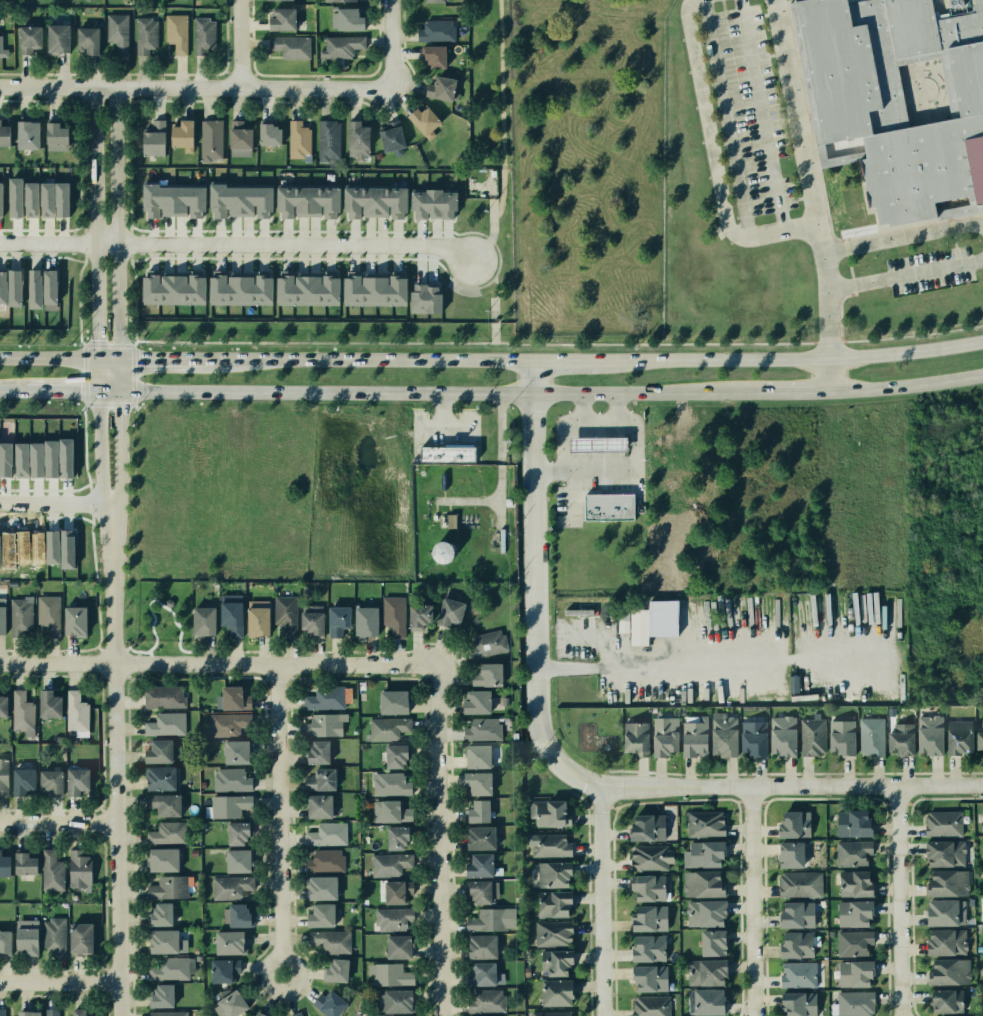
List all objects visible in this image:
building: (274, 0)
building: (342, 0)
building: (435, 1)
building: (345, 17)
building: (282, 19)
building: (436, 31)
building: (145, 32)
building: (173, 34)
building: (114, 35)
building: (202, 35)
building: (54, 37)
building: (25, 39)
building: (83, 39)
road: (238, 42)
building: (291, 46)
building: (340, 46)
building: (3, 49)
building: (434, 56)
road: (500, 83)
road: (358, 84)
road: (119, 85)
building: (441, 88)
building: (895, 100)
road: (760, 116)
road: (726, 119)
building: (424, 121)
building: (182, 133)
building: (268, 133)
building: (27, 134)
building: (56, 134)
building: (4, 135)
building: (392, 136)
building: (153, 138)
building: (239, 138)
building: (326, 138)
building: (209, 139)
building: (298, 139)
building: (357, 140)
building: (376, 155)
road: (713, 159)
road: (806, 178)
building: (16, 198)
building: (1, 199)
building: (55, 199)
building: (31, 200)
building: (172, 200)
building: (308, 201)
building: (240, 202)
building: (376, 202)
building: (432, 204)
road: (96, 221)
road: (902, 237)
road: (237, 247)
road: (953, 247)
road: (848, 267)
road: (904, 275)
building: (168, 286)
building: (2, 287)
building: (49, 287)
building: (238, 287)
building: (14, 288)
building: (34, 289)
building: (305, 289)
building: (372, 290)
building: (422, 297)
road: (118, 305)
road: (49, 358)
road: (109, 358)
road: (151, 358)
road: (356, 359)
road: (782, 359)
road: (556, 360)
road: (826, 375)
road: (904, 386)
road: (12, 390)
road: (61, 390)
road: (429, 391)
road: (794, 392)
road: (579, 407)
road: (618, 407)
road: (626, 422)
road: (444, 423)
road: (429, 424)
road: (98, 441)
building: (597, 445)
gas station: (597, 445)
building: (444, 452)
building: (66, 458)
building: (6, 459)
building: (51, 459)
building: (22, 460)
building: (36, 460)
road: (572, 475)
road: (51, 501)
building: (607, 506)
building: (53, 547)
building: (67, 549)
building: (437, 550)
road: (157, 602)
building: (168, 602)
building: (227, 609)
park: (162, 610)
building: (445, 611)
building: (19, 614)
building: (48, 614)
building: (2, 616)
building: (420, 616)
building: (335, 617)
building: (390, 617)
building: (282, 619)
building: (72, 620)
building: (199, 620)
building: (254, 620)
building: (309, 621)
building: (362, 621)
building: (623, 623)
building: (639, 627)
road: (534, 631)
building: (486, 644)
road: (125, 648)
road: (136, 650)
road: (193, 650)
road: (149, 652)
road: (217, 663)
road: (659, 663)
building: (484, 674)
building: (793, 686)
building: (163, 697)
building: (228, 697)
building: (324, 698)
building: (390, 701)
building: (473, 701)
building: (49, 703)
building: (3, 705)
building: (75, 710)
building: (20, 712)
building: (165, 723)
building: (226, 723)
building: (321, 724)
building: (387, 728)
building: (480, 729)
park: (591, 732)
building: (721, 733)
building: (780, 733)
building: (686, 734)
building: (896, 735)
building: (928, 735)
building: (659, 736)
building: (869, 736)
building: (957, 736)
building: (634, 737)
building: (812, 737)
building: (836, 737)
building: (751, 738)
building: (980, 739)
building: (155, 750)
building: (234, 750)
building: (314, 752)
building: (397, 754)
building: (474, 756)
road: (113, 770)
building: (4, 778)
building: (157, 778)
building: (318, 779)
building: (23, 780)
building: (231, 780)
building: (48, 781)
building: (73, 781)
building: (202, 783)
building: (388, 783)
building: (474, 783)
road: (834, 784)
building: (163, 803)
building: (231, 806)
building: (316, 806)
building: (474, 809)
building: (206, 811)
building: (384, 811)
building: (547, 815)
road: (277, 818)
building: (982, 820)
building: (644, 821)
building: (705, 821)
building: (791, 822)
road: (57, 823)
building: (852, 823)
building: (941, 823)
building: (238, 831)
building: (167, 832)
building: (327, 833)
building: (477, 837)
building: (393, 838)
road: (437, 839)
building: (548, 845)
building: (981, 850)
building: (192, 851)
building: (940, 853)
building: (852, 854)
building: (700, 855)
building: (796, 855)
building: (650, 857)
building: (160, 858)
building: (322, 860)
building: (234, 861)
building: (21, 863)
building: (389, 863)
building: (476, 864)
building: (3, 865)
building: (76, 868)
building: (50, 872)
building: (551, 875)
building: (702, 882)
building: (943, 882)
building: (798, 883)
building: (852, 884)
building: (230, 886)
building: (317, 886)
building: (165, 887)
building: (646, 888)
building: (472, 891)
building: (394, 892)
road: (599, 900)
road: (897, 900)
road: (750, 901)
building: (552, 906)
building: (939, 912)
building: (234, 914)
building: (317, 914)
building: (702, 914)
building: (157, 915)
building: (849, 915)
building: (797, 916)
building: (644, 918)
building: (391, 920)
building: (485, 920)
building: (54, 934)
building: (554, 936)
building: (78, 938)
building: (163, 940)
building: (4, 941)
building: (24, 941)
building: (330, 941)
building: (943, 941)
building: (225, 942)
building: (710, 942)
building: (853, 944)
building: (395, 946)
building: (477, 946)
building: (797, 946)
building: (194, 949)
building: (646, 949)
building: (196, 958)
building: (552, 962)
building: (168, 969)
building: (220, 970)
building: (332, 970)
building: (945, 970)
building: (701, 972)
building: (385, 973)
building: (478, 973)
building: (853, 974)
building: (795, 975)
building: (644, 979)
road: (59, 986)
building: (553, 993)
building: (161, 995)
building: (391, 1000)
building: (486, 1000)
building: (942, 1001)
building: (702, 1003)
building: (227, 1004)
building: (328, 1004)
building: (854, 1004)
building: (792, 1005)
building: (647, 1006)
building: (24, 1010)
building: (49, 1010)
building: (1, 1012)
building: (75, 1012)
building: (165, 1013)
building: (255, 1014)
building: (294, 1014)
building: (485, 1015)
building: (551, 1015)

